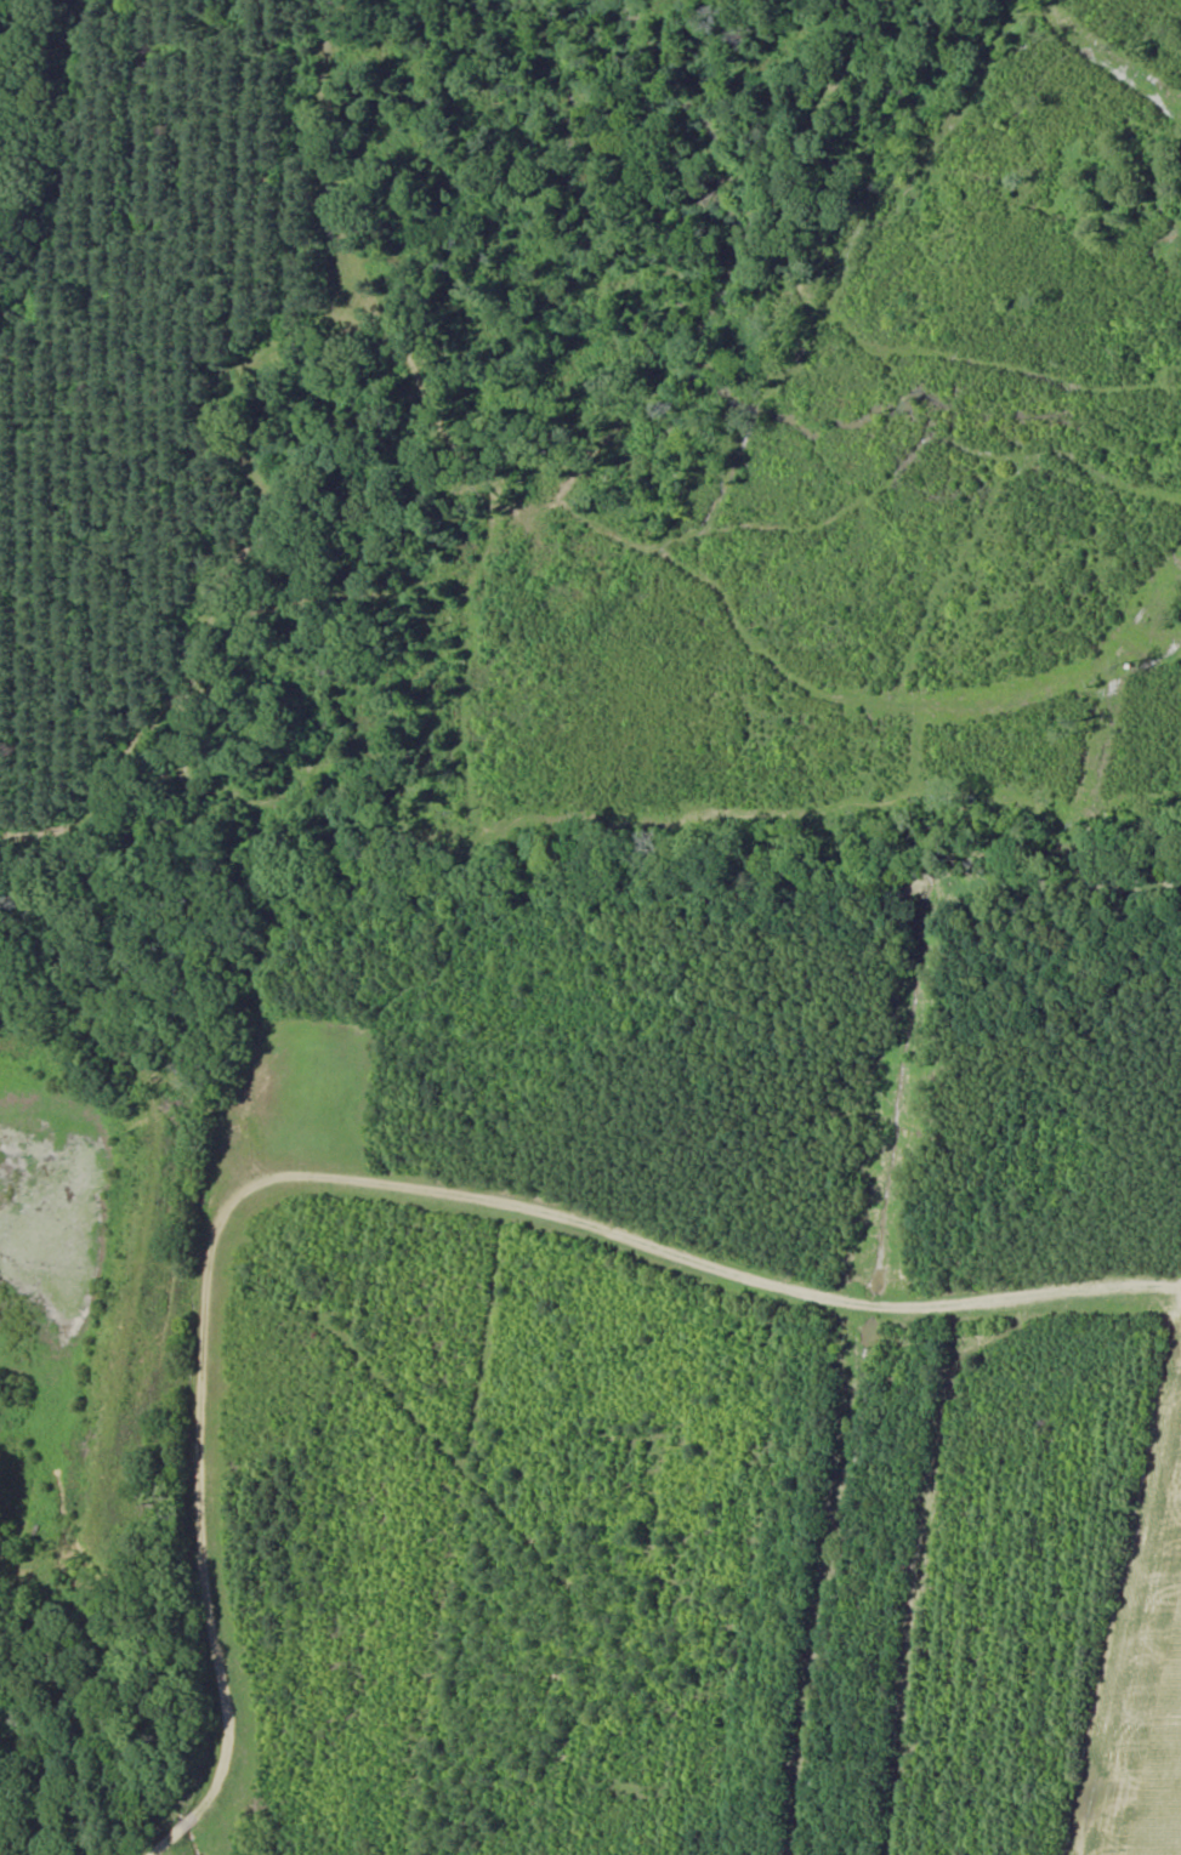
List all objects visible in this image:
road: (380, 1156)

